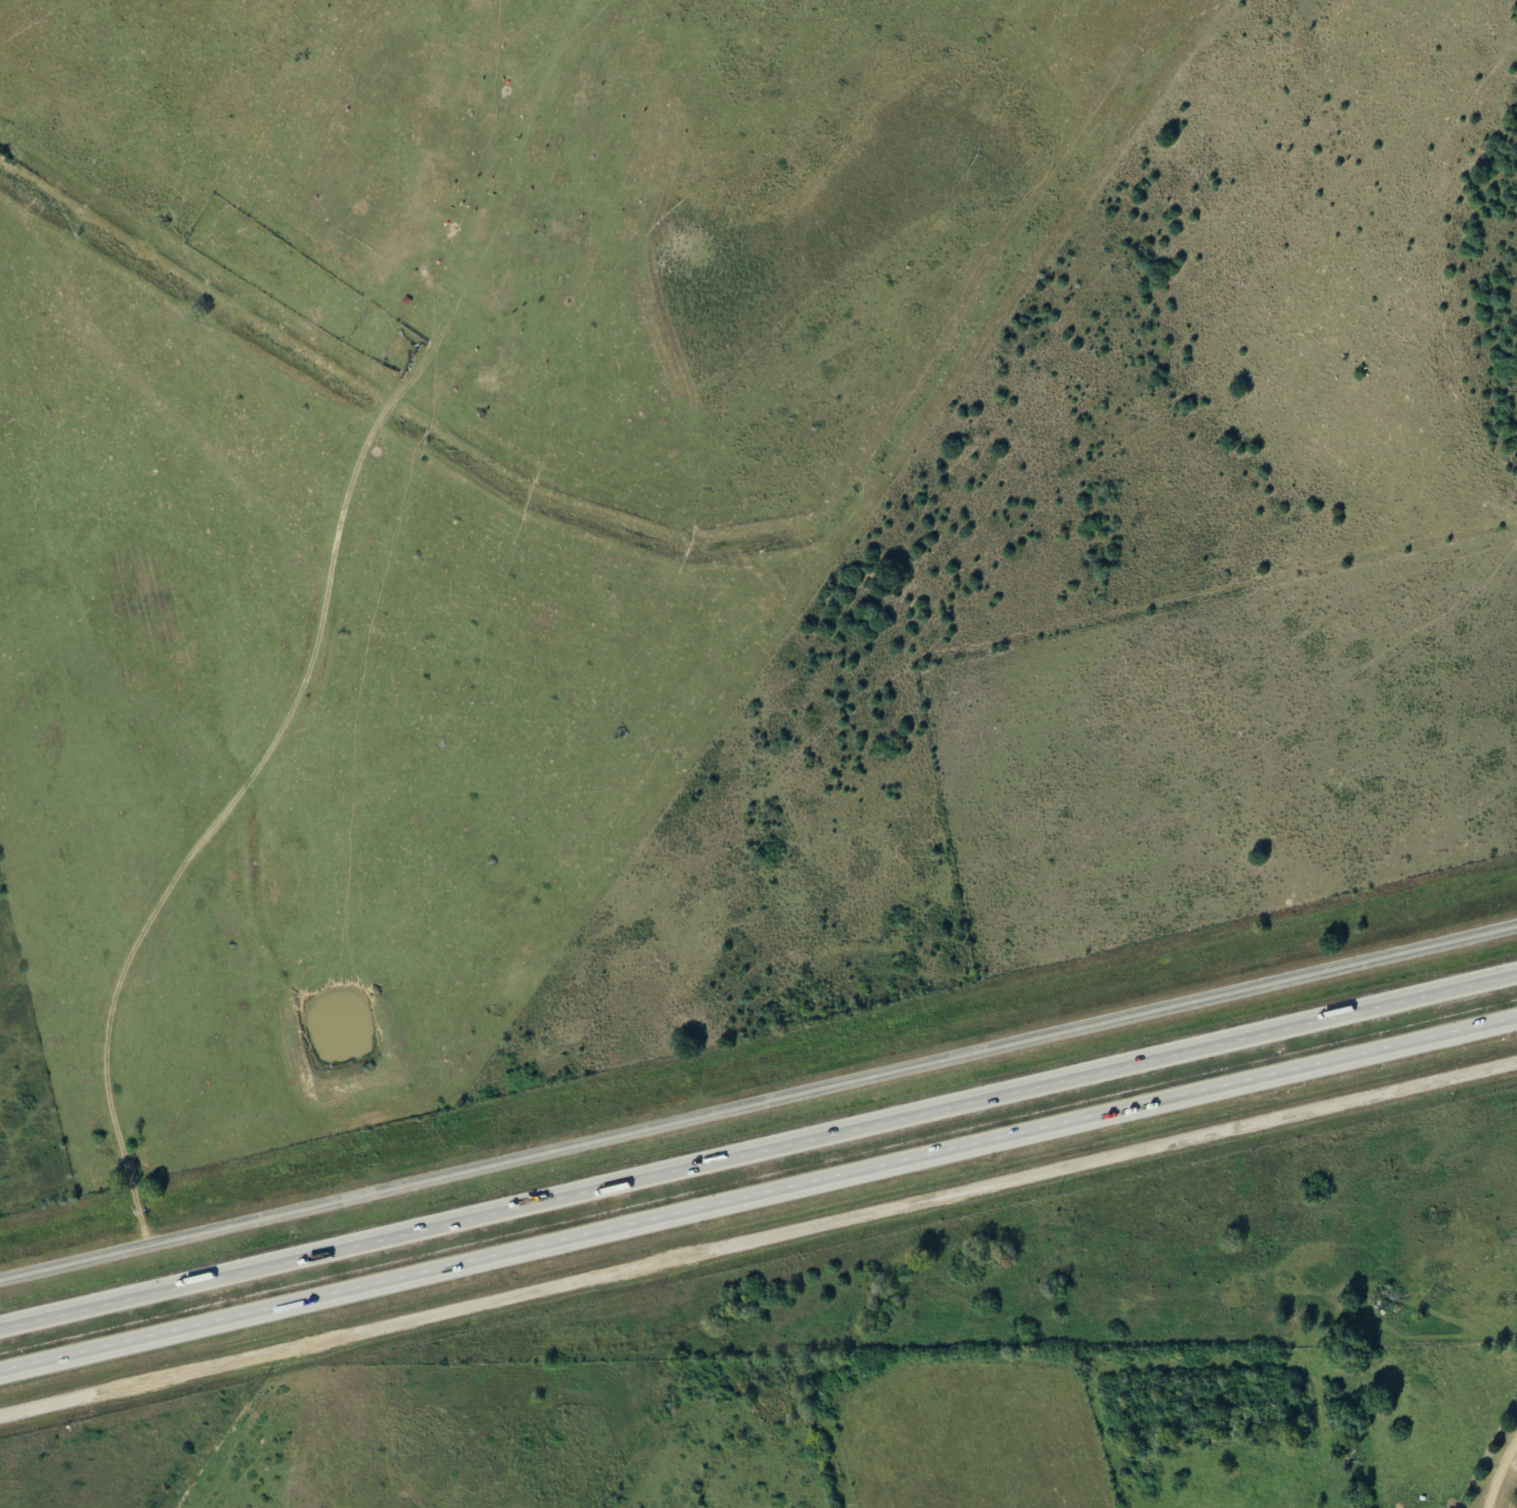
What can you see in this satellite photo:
road: (758, 1103)
road: (758, 1151)
road: (758, 1194)
road: (758, 1239)
road: (1496, 1464)

